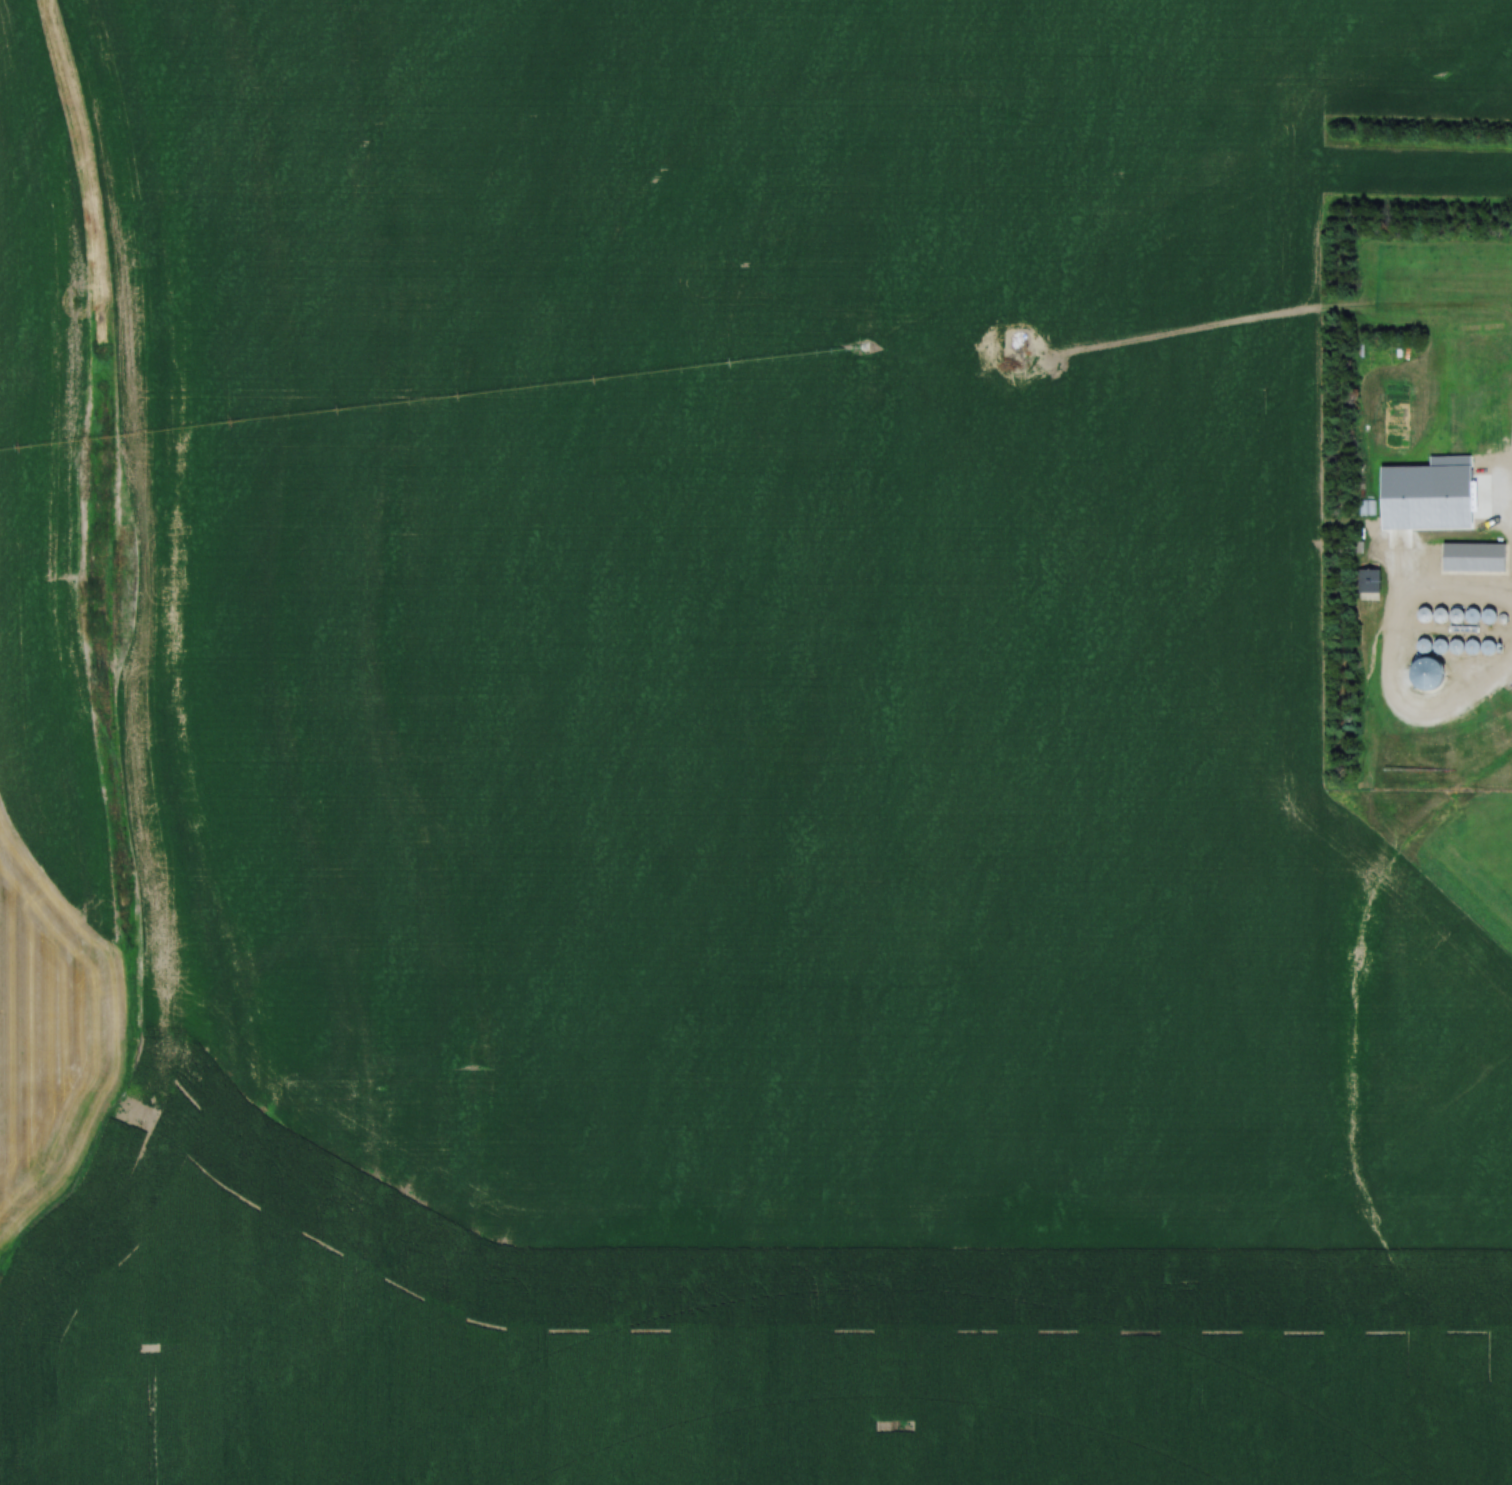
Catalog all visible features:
building: (1364, 505)
building: (1469, 555)
building: (1364, 579)
building: (1420, 673)

